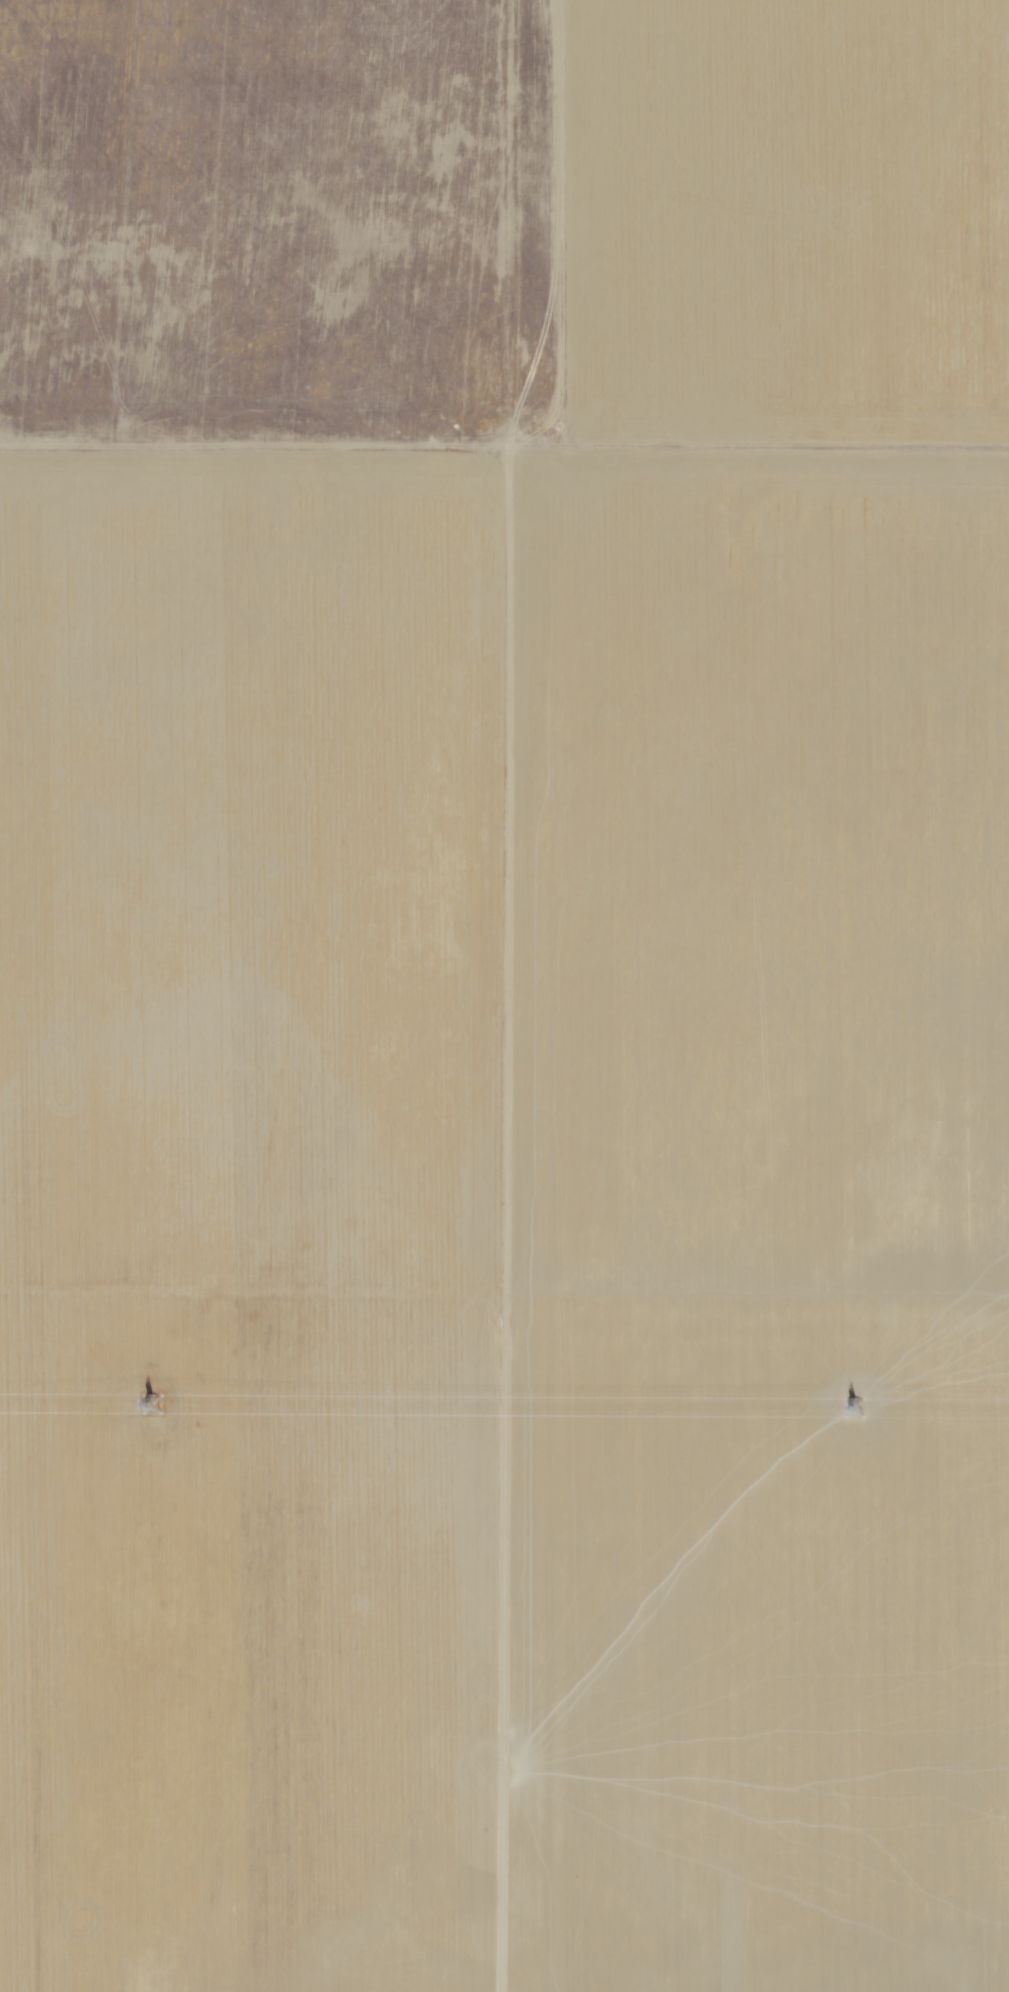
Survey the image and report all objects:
road: (579, 995)
power tower: (152, 1404)
power tower: (853, 1407)

